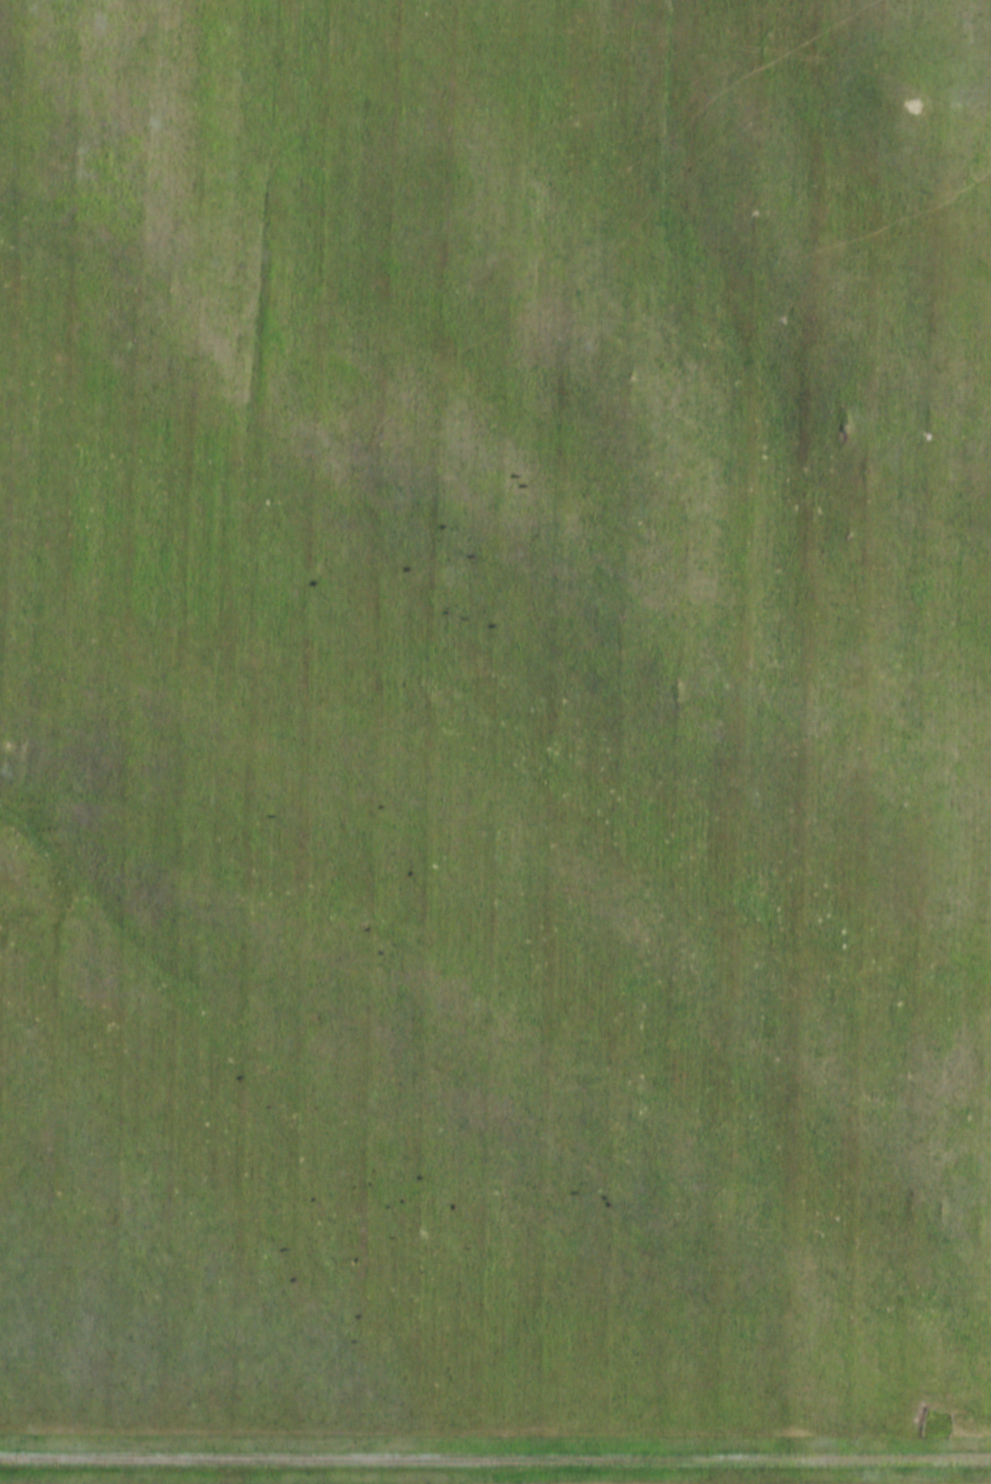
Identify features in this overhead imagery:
road: (495, 1460)

